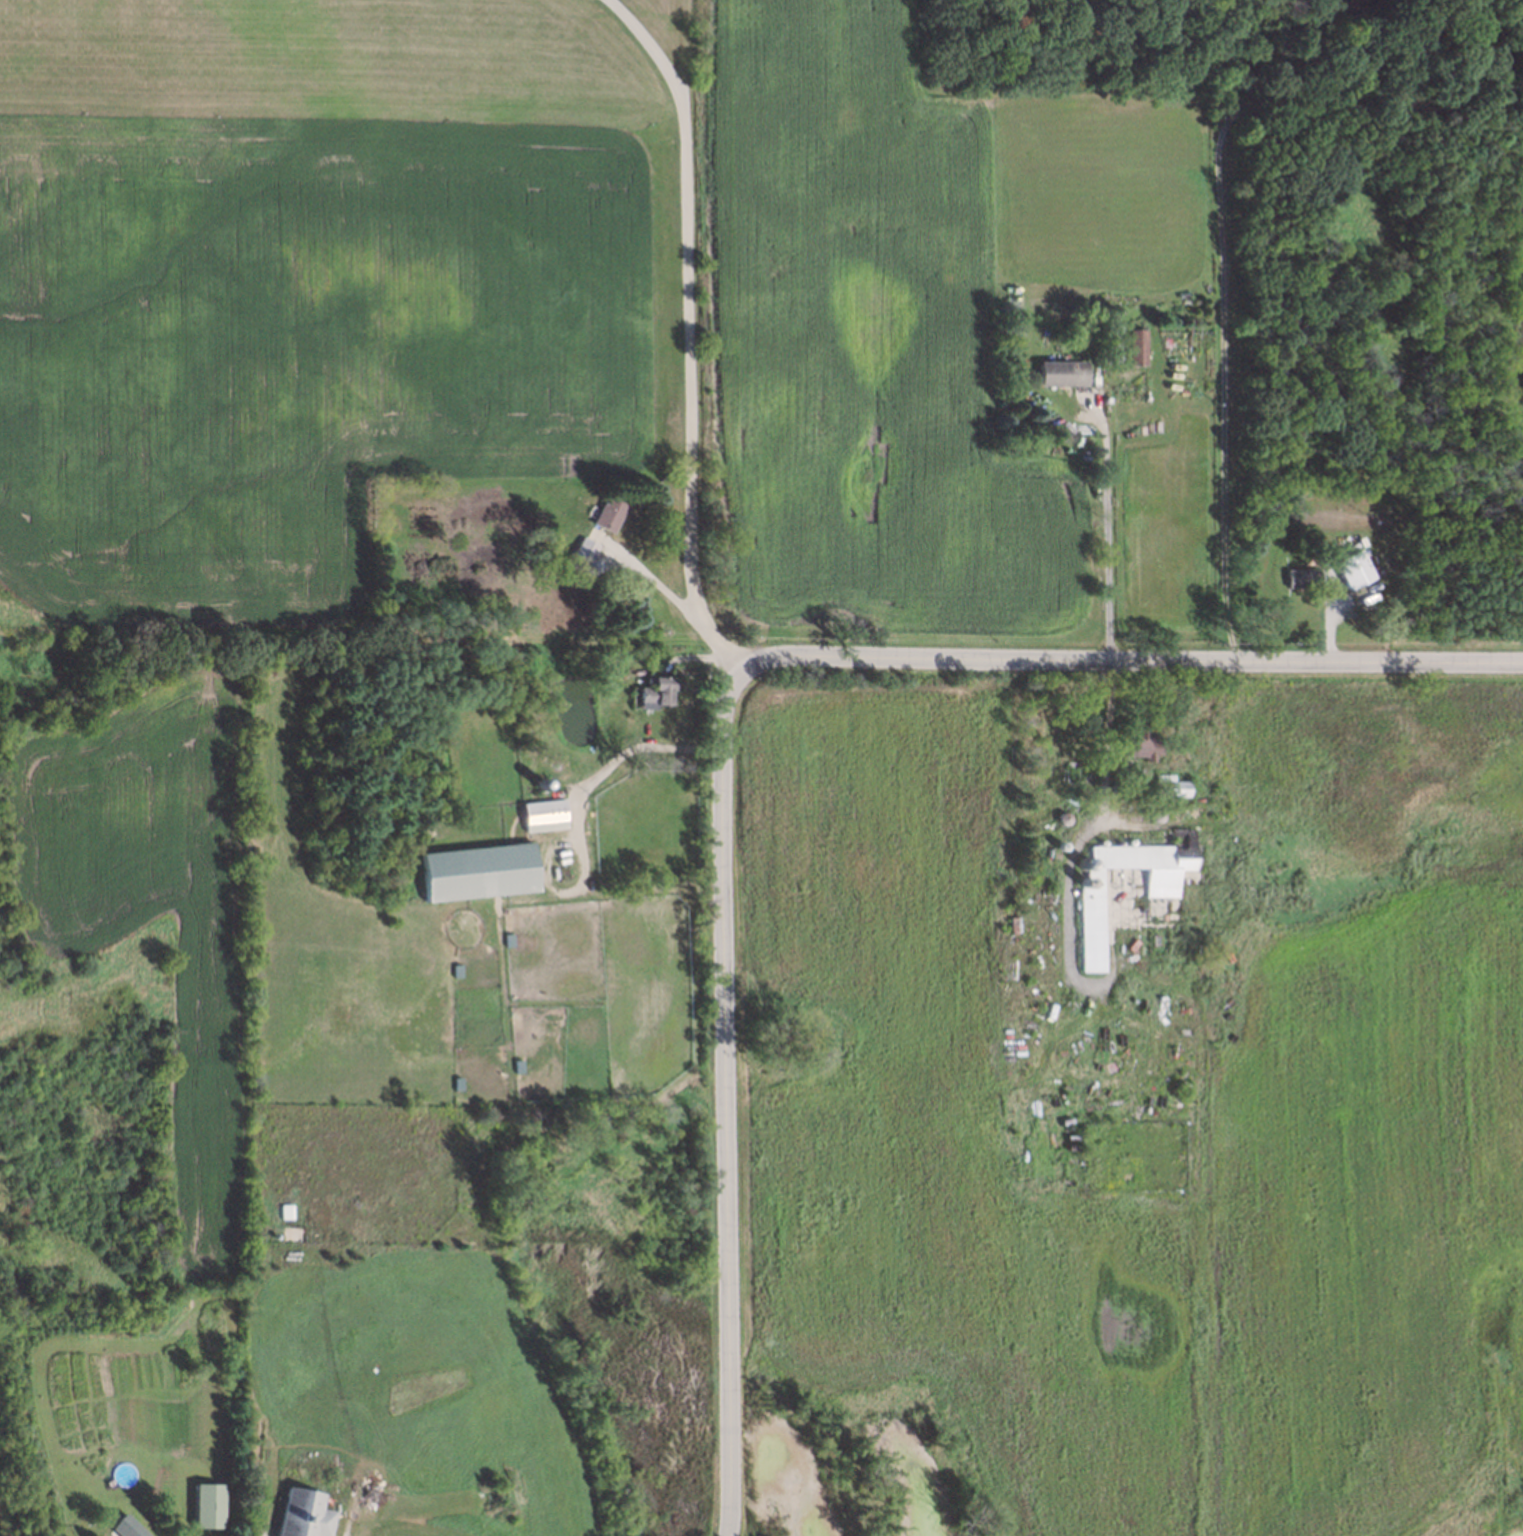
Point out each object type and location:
park: (1500, 13)
road: (1218, 262)
road: (689, 330)
building: (1128, 347)
building: (1095, 357)
building: (1110, 358)
building: (1056, 371)
building: (605, 512)
road: (1106, 524)
building: (581, 548)
building: (1349, 569)
road: (649, 574)
building: (1297, 576)
road: (1128, 658)
building: (651, 693)
building: (1132, 734)
building: (1148, 749)
road: (607, 767)
building: (523, 768)
building: (537, 781)
building: (1168, 787)
building: (1148, 804)
building: (1155, 814)
building: (546, 817)
building: (1062, 817)
building: (481, 875)
building: (1118, 896)
building: (1096, 932)
road: (726, 1104)
building: (289, 1232)
building: (204, 1504)
building: (299, 1514)
building: (119, 1524)

